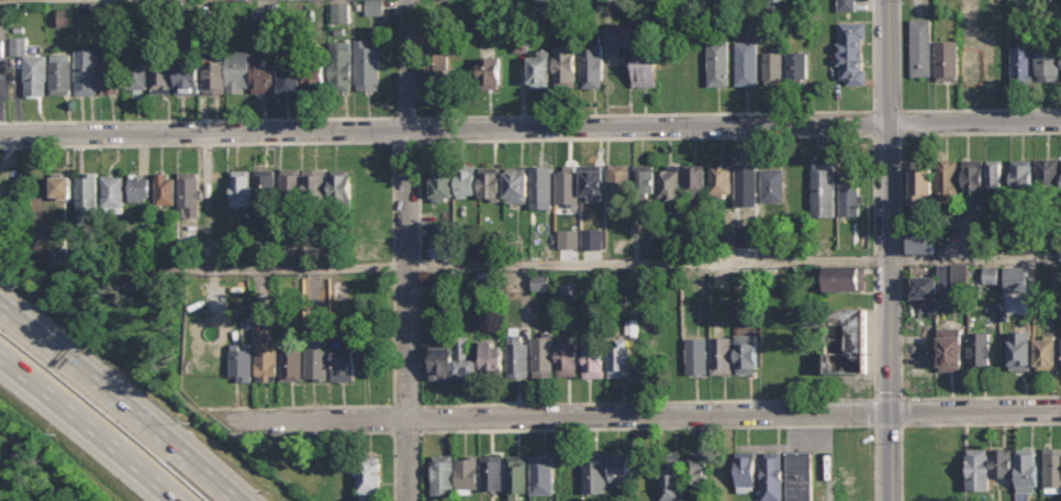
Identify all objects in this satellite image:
building: (846, 4)
building: (1020, 7)
building: (375, 8)
building: (340, 12)
building: (968, 12)
building: (62, 14)
building: (258, 16)
building: (616, 38)
building: (516, 40)
building: (920, 47)
building: (2, 48)
building: (851, 53)
building: (970, 57)
building: (592, 60)
building: (946, 60)
building: (641, 62)
road: (886, 62)
building: (718, 63)
building: (746, 63)
building: (1021, 63)
building: (1048, 64)
building: (342, 65)
building: (368, 65)
building: (565, 66)
building: (290, 67)
building: (796, 67)
building: (31, 68)
building: (540, 68)
building: (773, 68)
building: (438, 69)
building: (668, 70)
building: (693, 70)
building: (86, 71)
building: (489, 73)
building: (60, 74)
building: (110, 75)
building: (241, 75)
building: (189, 76)
building: (313, 76)
building: (160, 77)
building: (137, 78)
road: (924, 110)
road: (885, 111)
road: (700, 112)
road: (194, 120)
road: (897, 122)
road: (873, 123)
road: (974, 123)
road: (444, 132)
road: (919, 133)
road: (884, 134)
road: (645, 137)
road: (417, 141)
road: (255, 143)
building: (1048, 174)
building: (1021, 175)
building: (973, 176)
building: (995, 177)
building: (721, 178)
building: (694, 180)
building: (746, 180)
building: (592, 181)
building: (644, 181)
building: (947, 181)
building: (466, 182)
building: (490, 182)
building: (517, 182)
building: (618, 182)
building: (920, 182)
building: (291, 183)
building: (442, 183)
building: (669, 183)
building: (772, 183)
building: (60, 185)
building: (316, 185)
building: (568, 185)
building: (342, 186)
building: (541, 186)
building: (138, 187)
building: (253, 187)
building: (165, 189)
building: (824, 189)
building: (113, 191)
building: (852, 191)
building: (189, 193)
building: (87, 196)
building: (369, 225)
building: (744, 235)
building: (577, 236)
building: (922, 241)
building: (442, 248)
building: (372, 250)
road: (406, 250)
building: (57, 257)
road: (897, 258)
road: (873, 259)
road: (417, 265)
road: (555, 266)
road: (392, 267)
building: (960, 274)
building: (845, 277)
building: (987, 277)
building: (1010, 277)
building: (1056, 277)
building: (537, 281)
building: (929, 282)
road: (889, 313)
building: (846, 339)
building: (951, 348)
building: (317, 350)
building: (980, 350)
building: (1019, 350)
building: (1046, 352)
building: (746, 353)
building: (517, 354)
building: (266, 355)
building: (696, 355)
building: (721, 355)
building: (543, 356)
building: (567, 356)
building: (492, 357)
building: (594, 357)
building: (619, 357)
building: (344, 359)
building: (443, 360)
building: (466, 360)
building: (241, 361)
building: (291, 361)
road: (914, 398)
road: (120, 401)
road: (647, 401)
road: (360, 404)
road: (643, 414)
road: (943, 424)
road: (902, 425)
road: (89, 426)
road: (685, 428)
road: (1, 432)
road: (420, 432)
road: (313, 433)
road: (1, 436)
road: (422, 466)
road: (394, 467)
building: (987, 467)
building: (621, 469)
building: (1027, 469)
building: (1052, 469)
building: (696, 471)
building: (746, 471)
building: (492, 472)
building: (467, 474)
building: (516, 474)
building: (596, 474)
building: (444, 475)
building: (541, 475)
building: (771, 476)
building: (800, 476)
building: (673, 477)
building: (369, 478)

